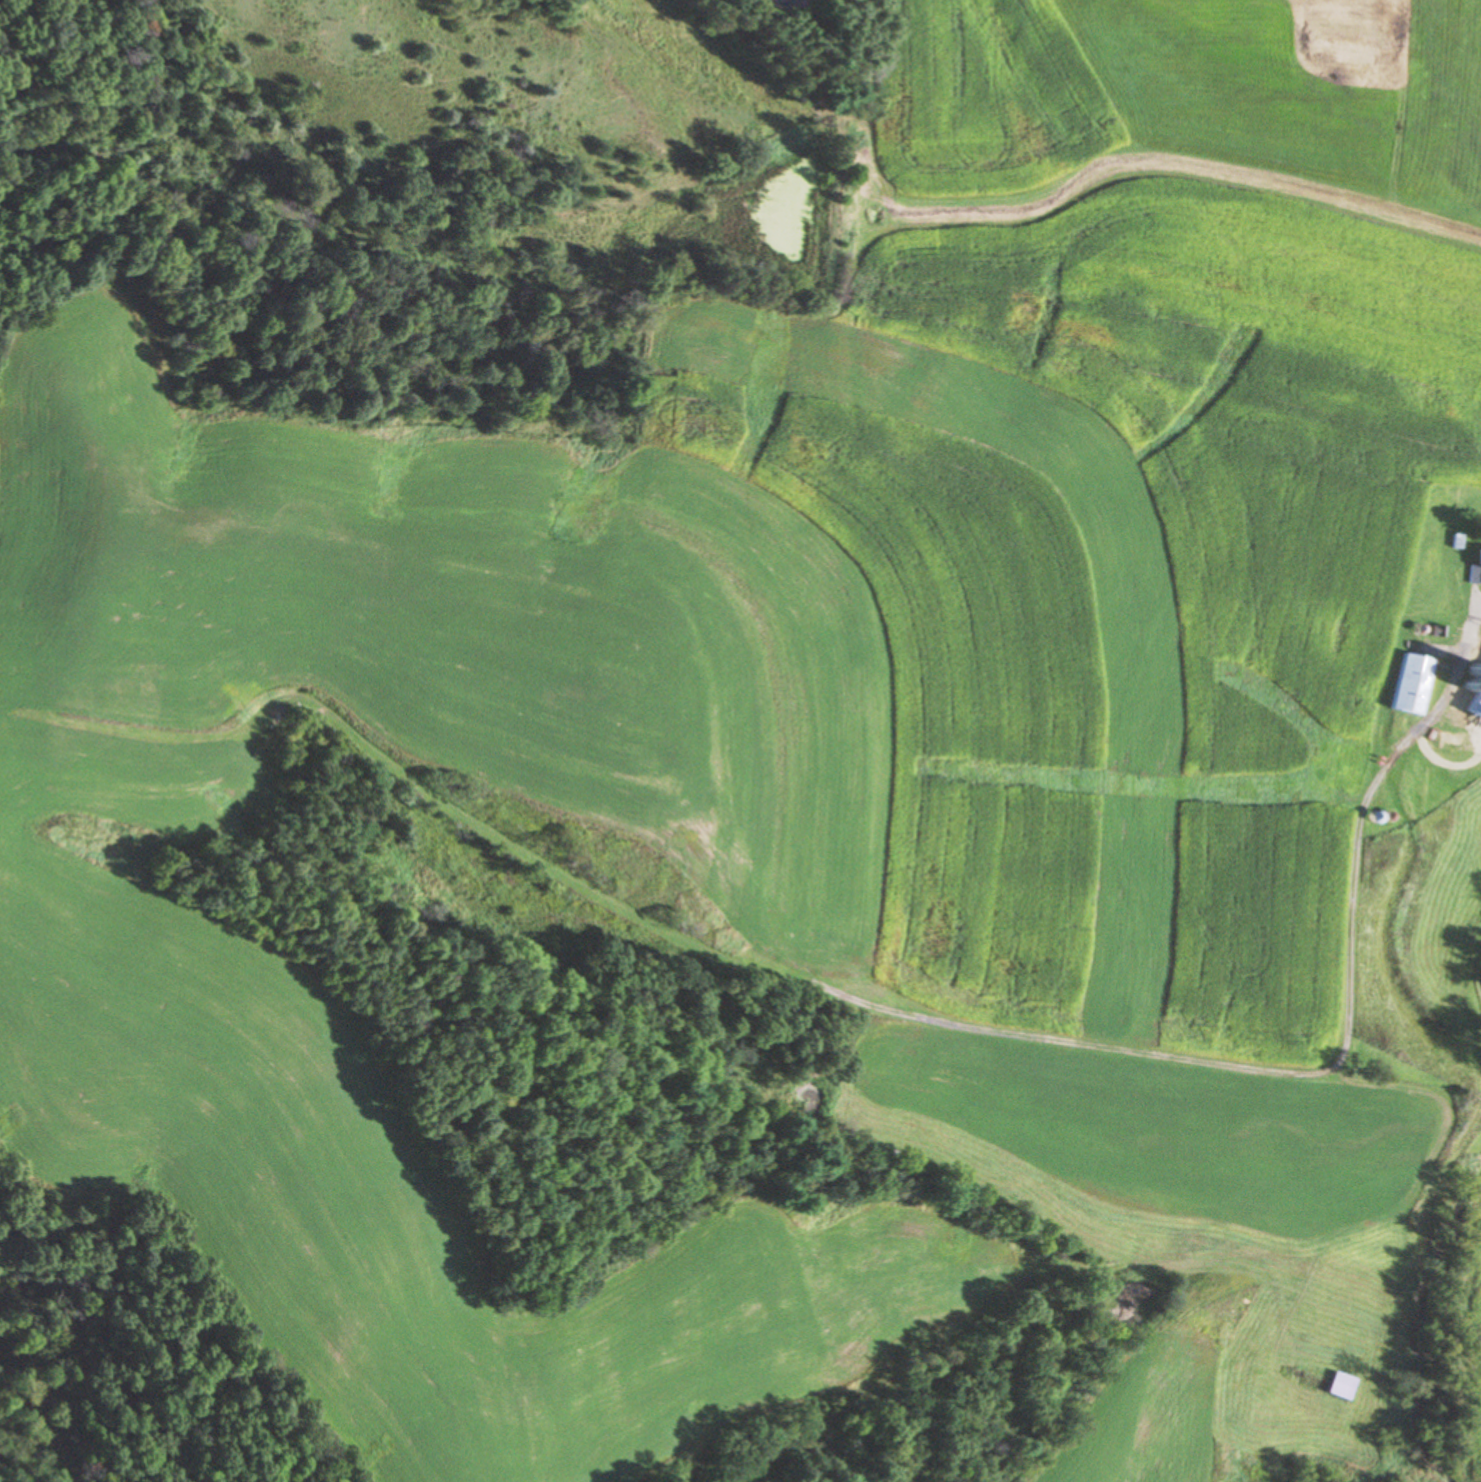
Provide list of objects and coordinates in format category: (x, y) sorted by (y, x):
road: (764, 37)
building: (1474, 569)
building: (1408, 683)
building: (1474, 700)
building: (1452, 741)
building: (1336, 1386)

